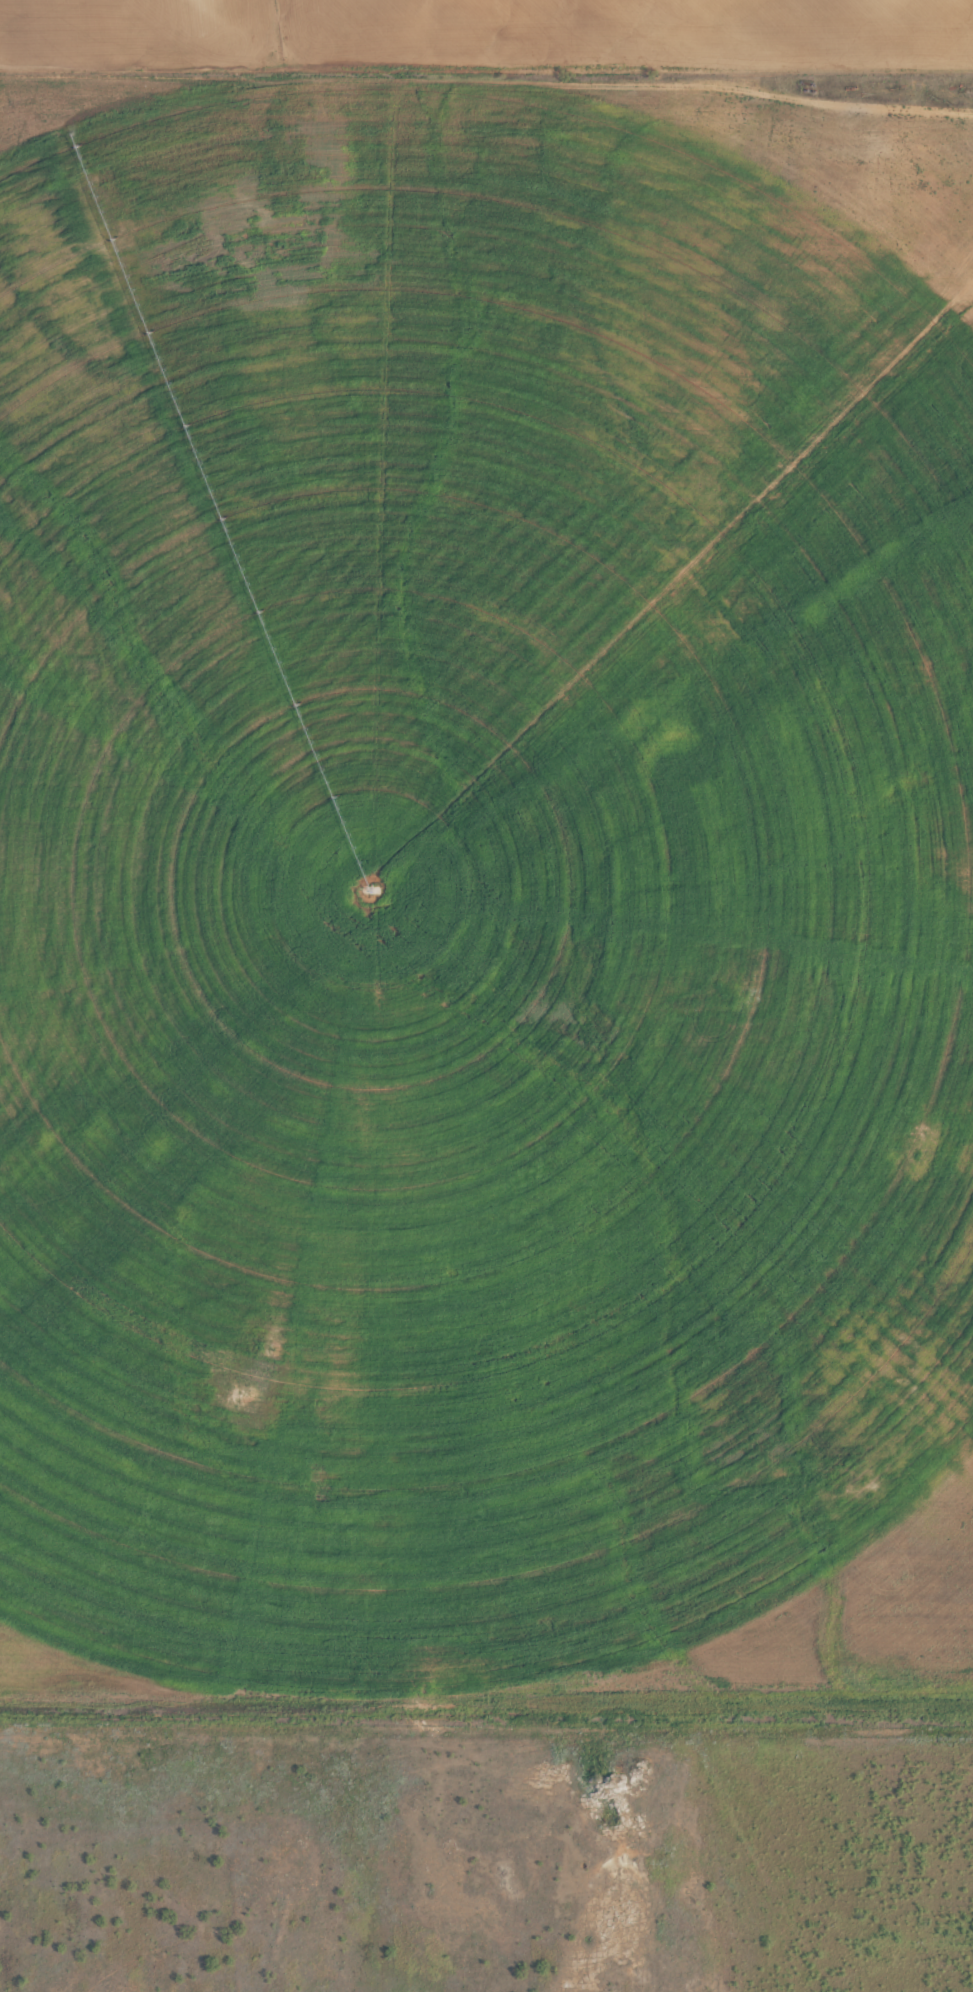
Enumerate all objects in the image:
road: (957, 40)

